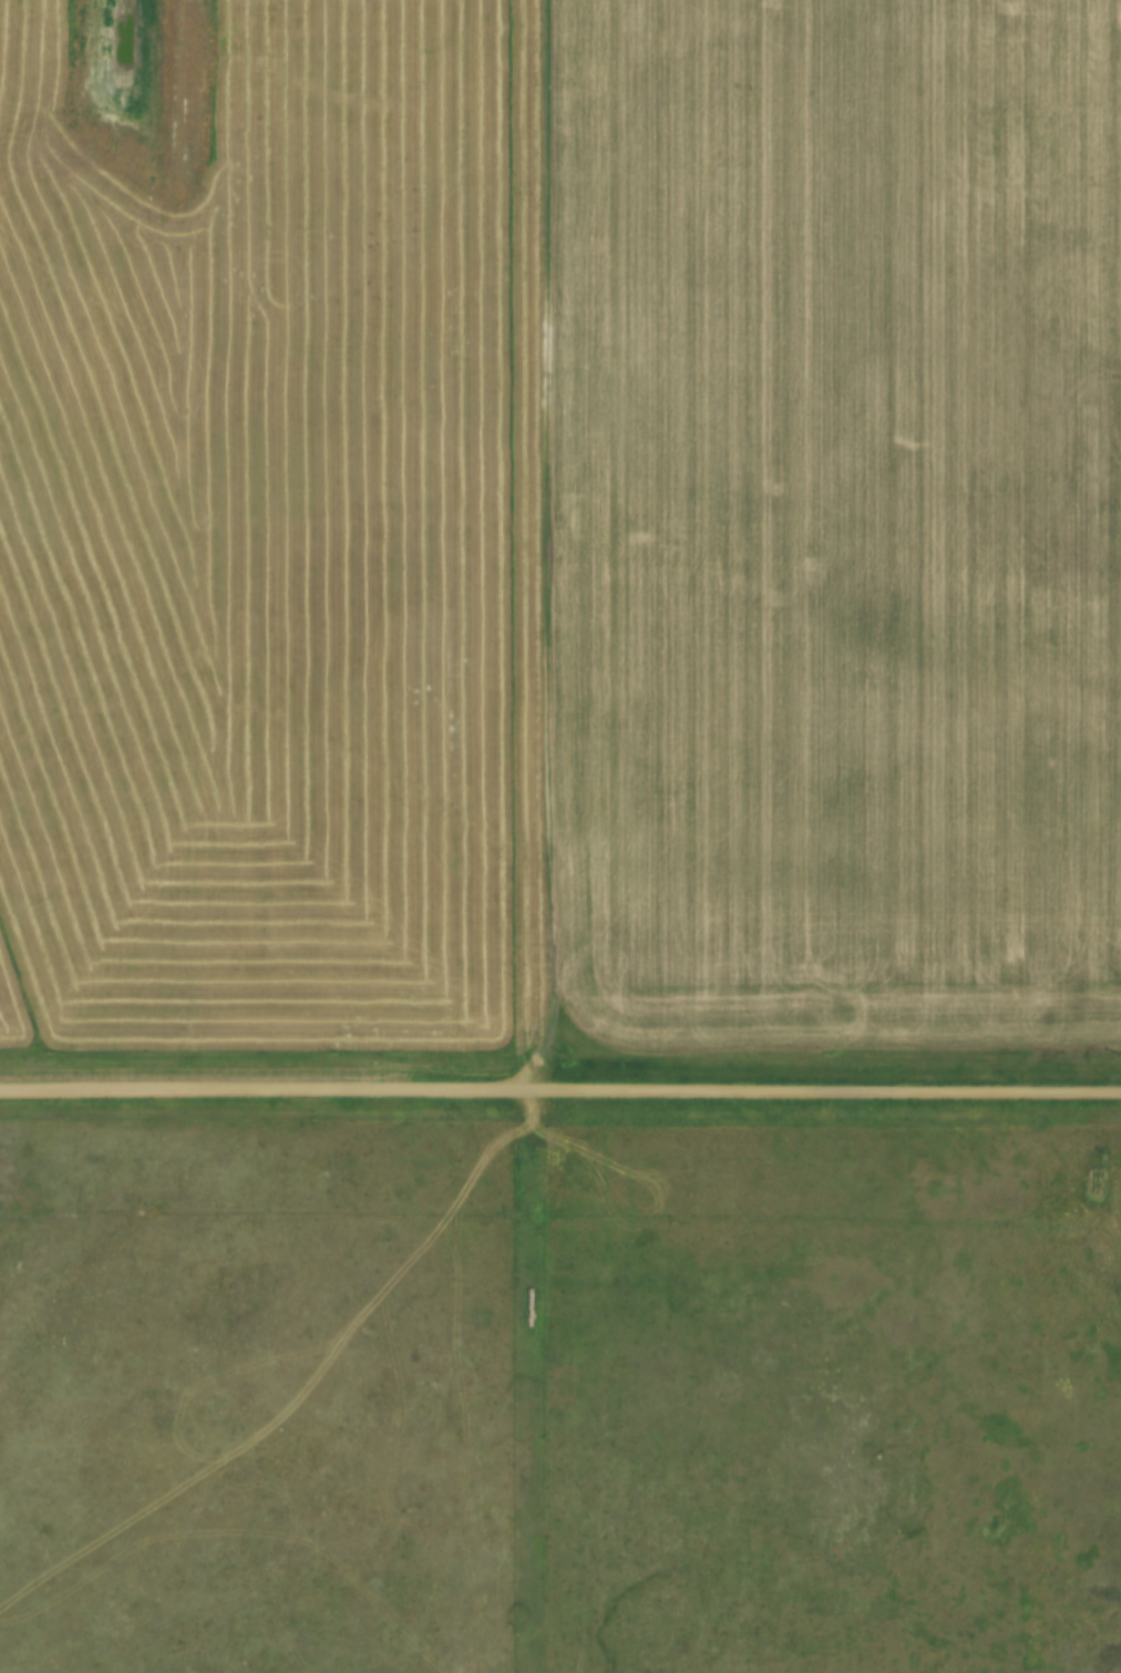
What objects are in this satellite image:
road: (538, 547)
road: (559, 1096)

